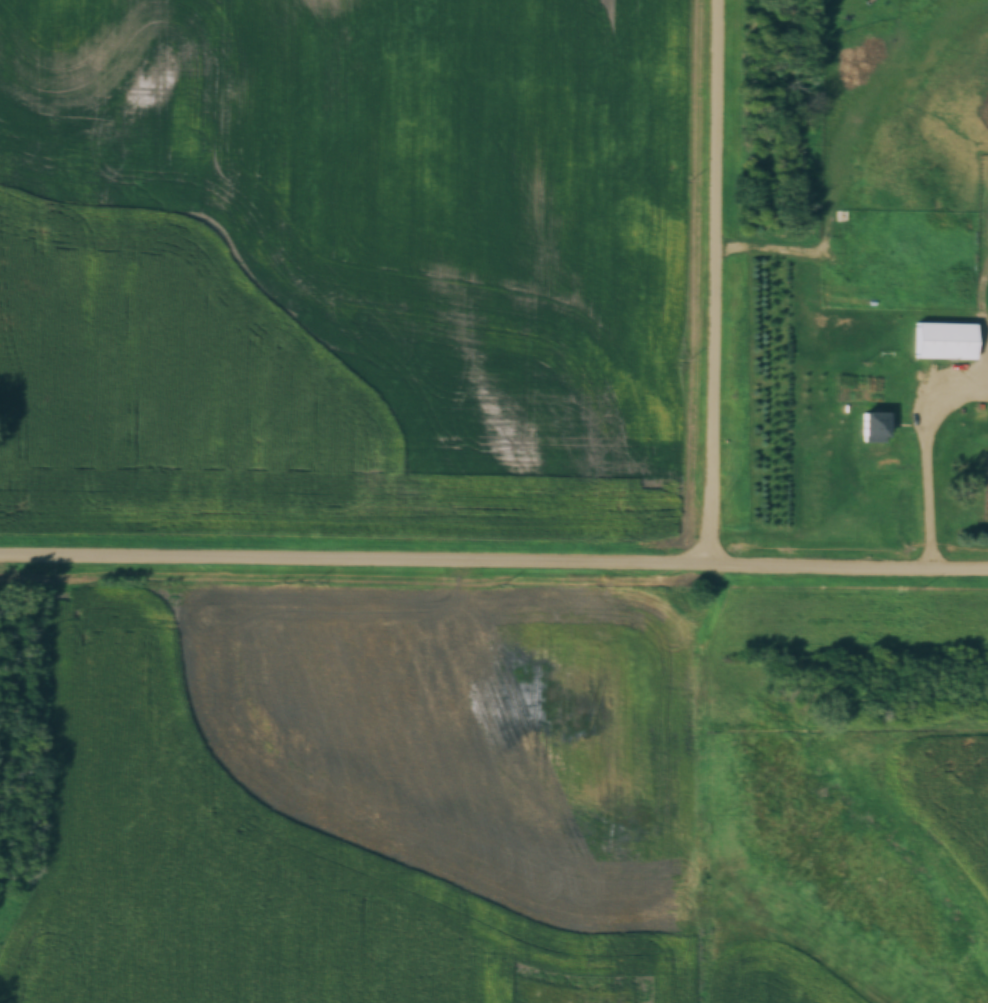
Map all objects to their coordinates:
building: (848, 31)
road: (714, 284)
building: (950, 346)
building: (874, 426)
road: (494, 565)

